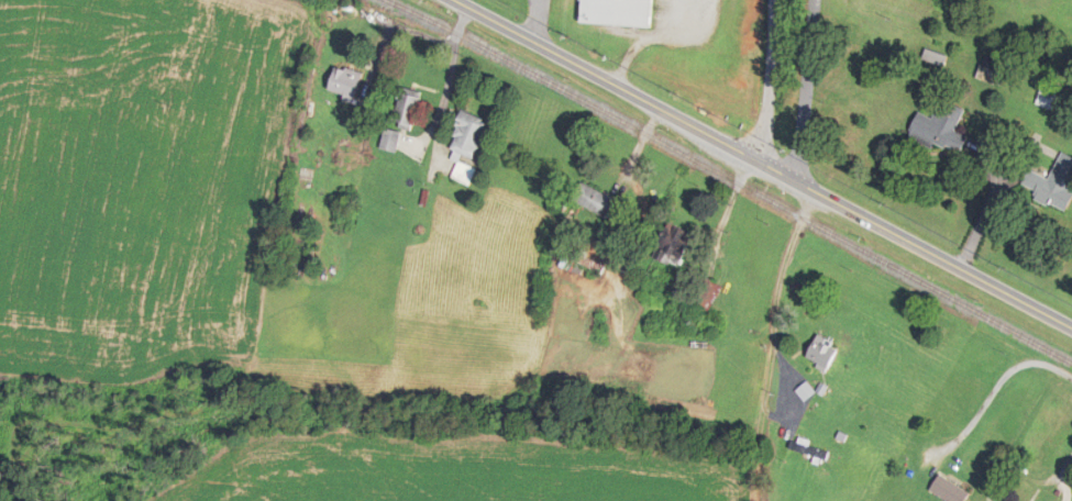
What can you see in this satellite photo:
building: (618, 13)
road: (537, 20)
building: (993, 71)
road: (770, 78)
road: (803, 90)
road: (447, 91)
building: (1047, 98)
building: (406, 109)
building: (941, 129)
building: (390, 142)
road: (641, 145)
building: (467, 146)
road: (763, 162)
railway: (730, 178)
building: (1053, 186)
road: (732, 200)
building: (595, 201)
road: (808, 205)
building: (674, 247)
road: (781, 279)
building: (706, 294)
building: (821, 356)
road: (997, 383)
building: (807, 449)
road: (1068, 465)
building: (948, 491)

